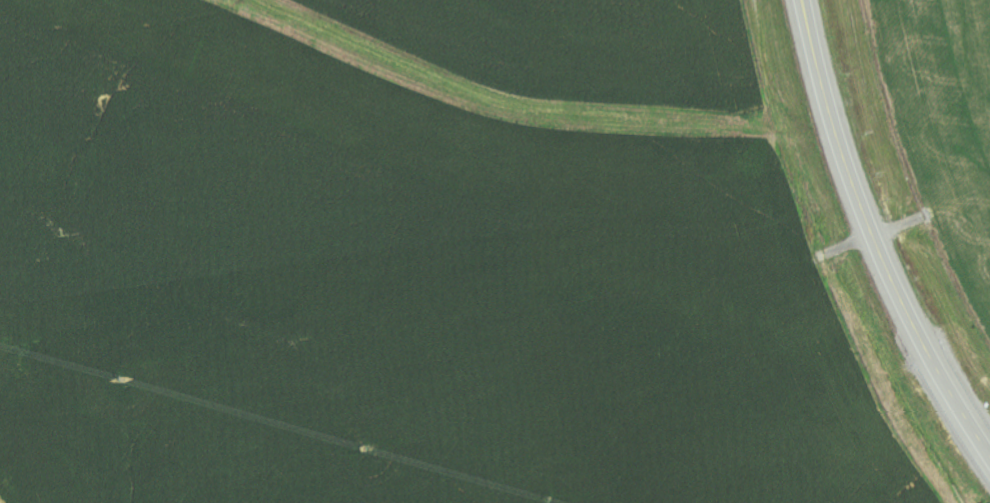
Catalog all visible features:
road: (873, 237)

